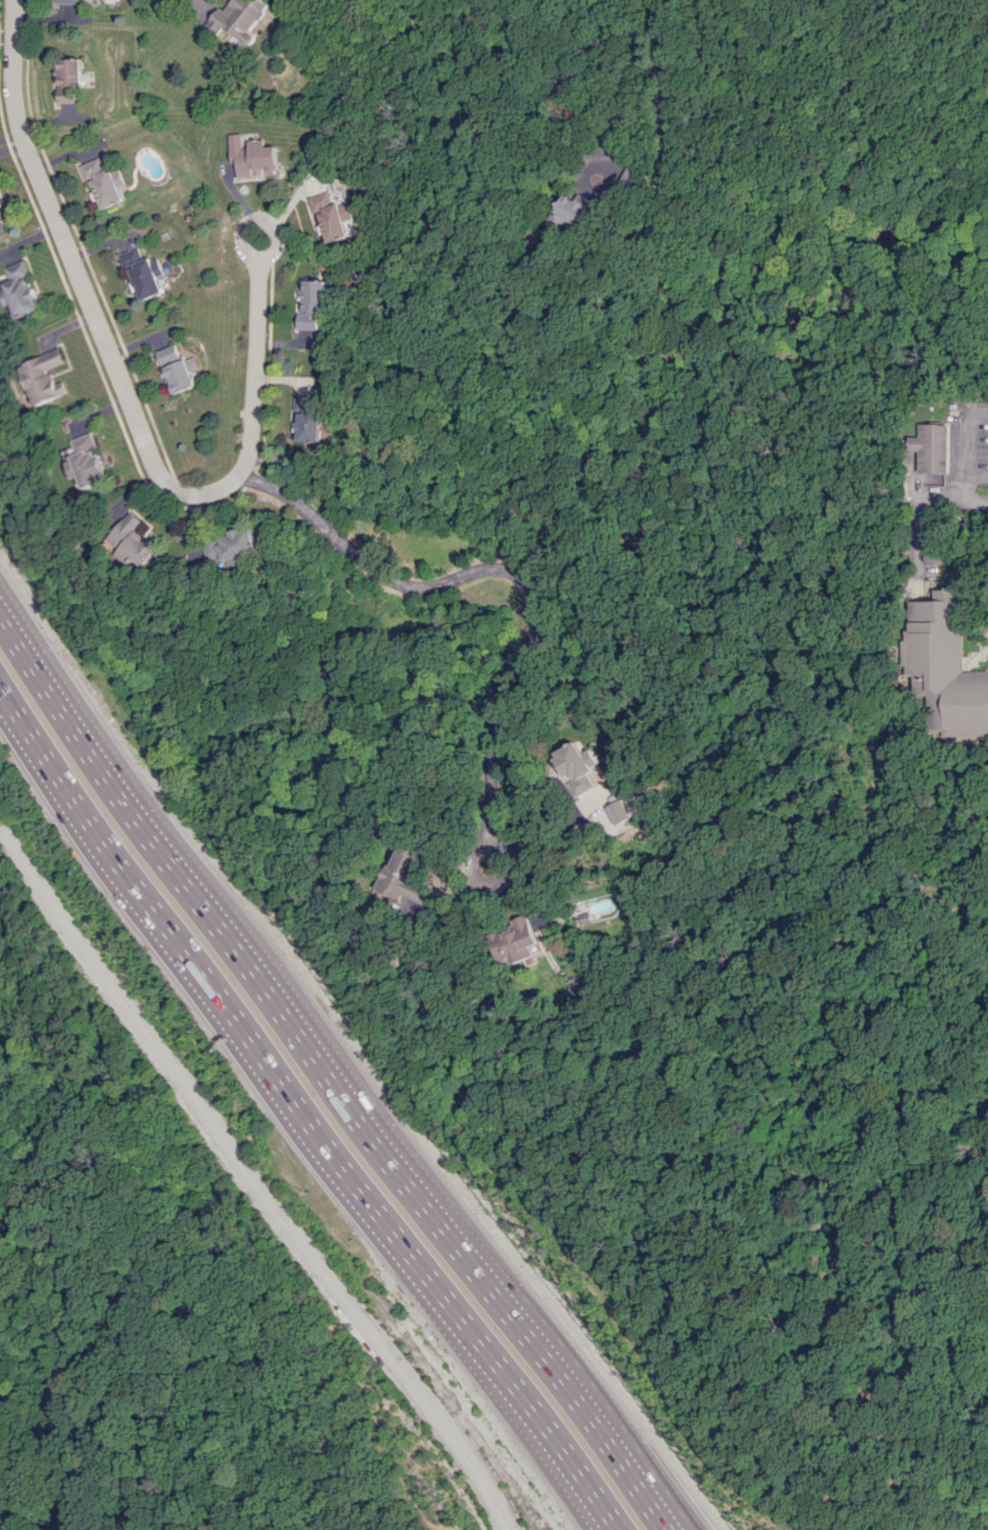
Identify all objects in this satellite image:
building: (65, 1)
road: (193, 1)
building: (236, 19)
building: (66, 81)
road: (625, 92)
building: (247, 155)
building: (102, 183)
building: (572, 209)
building: (330, 217)
road: (254, 222)
building: (1, 225)
road: (796, 281)
building: (20, 288)
building: (310, 304)
building: (178, 369)
building: (45, 377)
road: (122, 384)
building: (308, 418)
road: (972, 434)
building: (935, 448)
building: (89, 462)
road: (980, 476)
road: (971, 489)
road: (955, 501)
building: (139, 540)
building: (929, 552)
road: (515, 577)
building: (943, 665)
building: (578, 767)
road: (958, 804)
building: (620, 811)
building: (627, 825)
building: (404, 872)
building: (519, 941)
building: (381, 956)
building: (398, 959)
road: (245, 1026)
road: (326, 1074)
road: (253, 1170)
road: (3, 1175)
road: (720, 1228)
park: (160, 1297)
road: (151, 1390)
road: (28, 1422)
road: (380, 1428)
road: (547, 1449)

